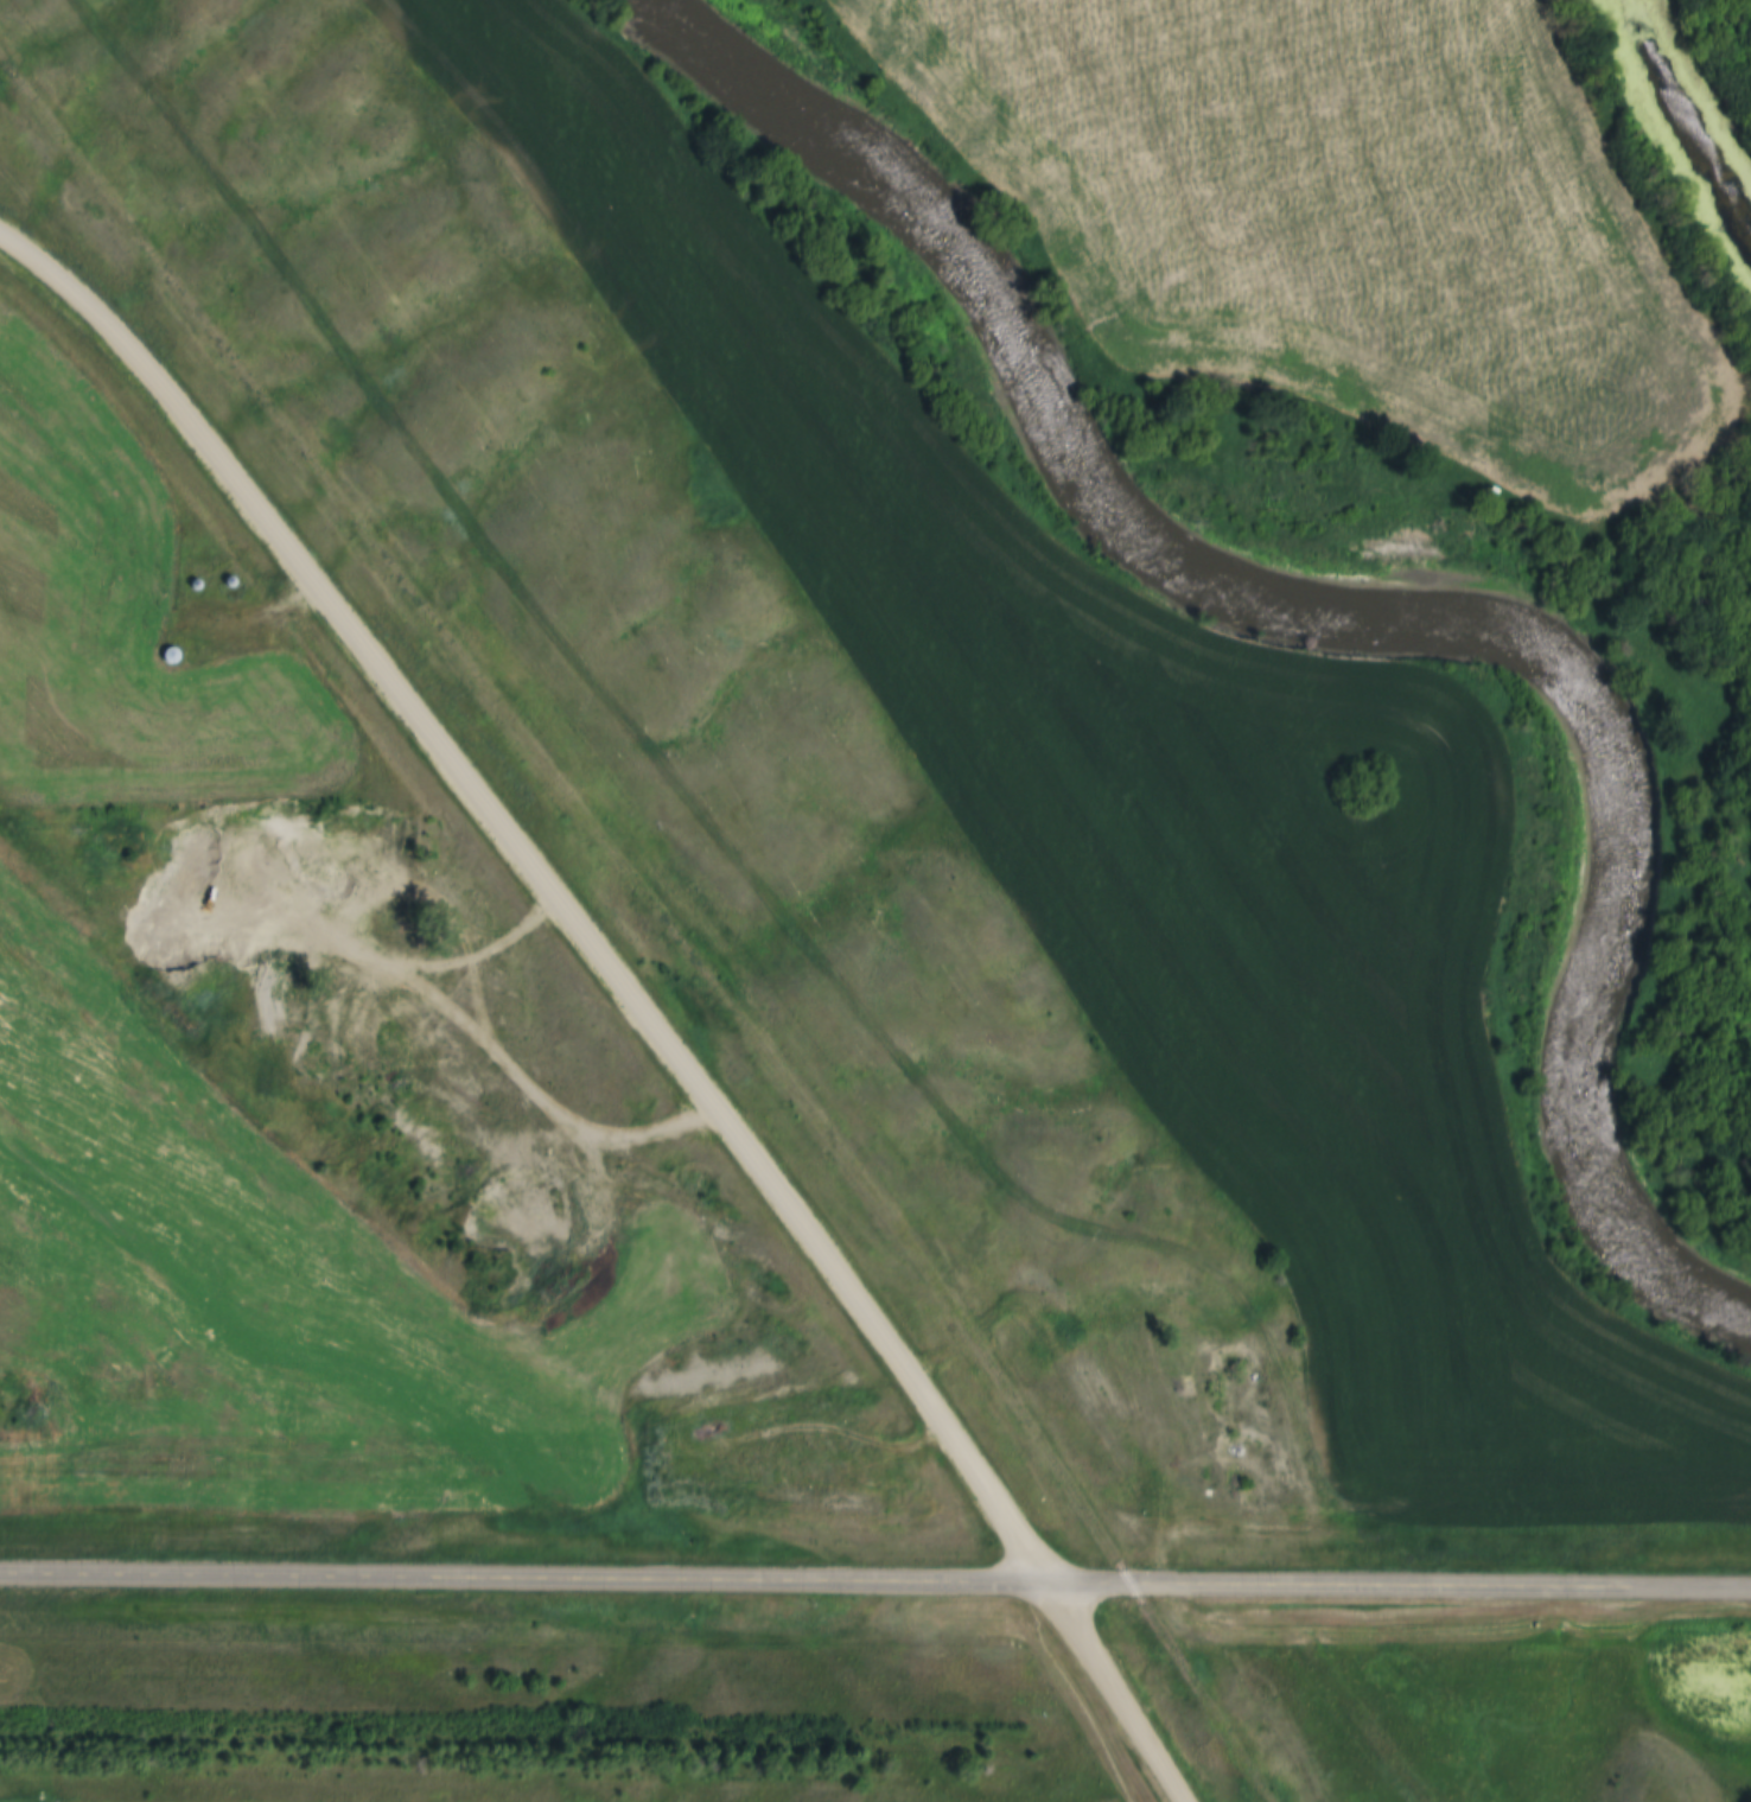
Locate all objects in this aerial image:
river: (1361, 598)
road: (542, 889)
railway: (728, 909)
quarry: (390, 1024)
road: (875, 1579)
road: (1114, 1690)

